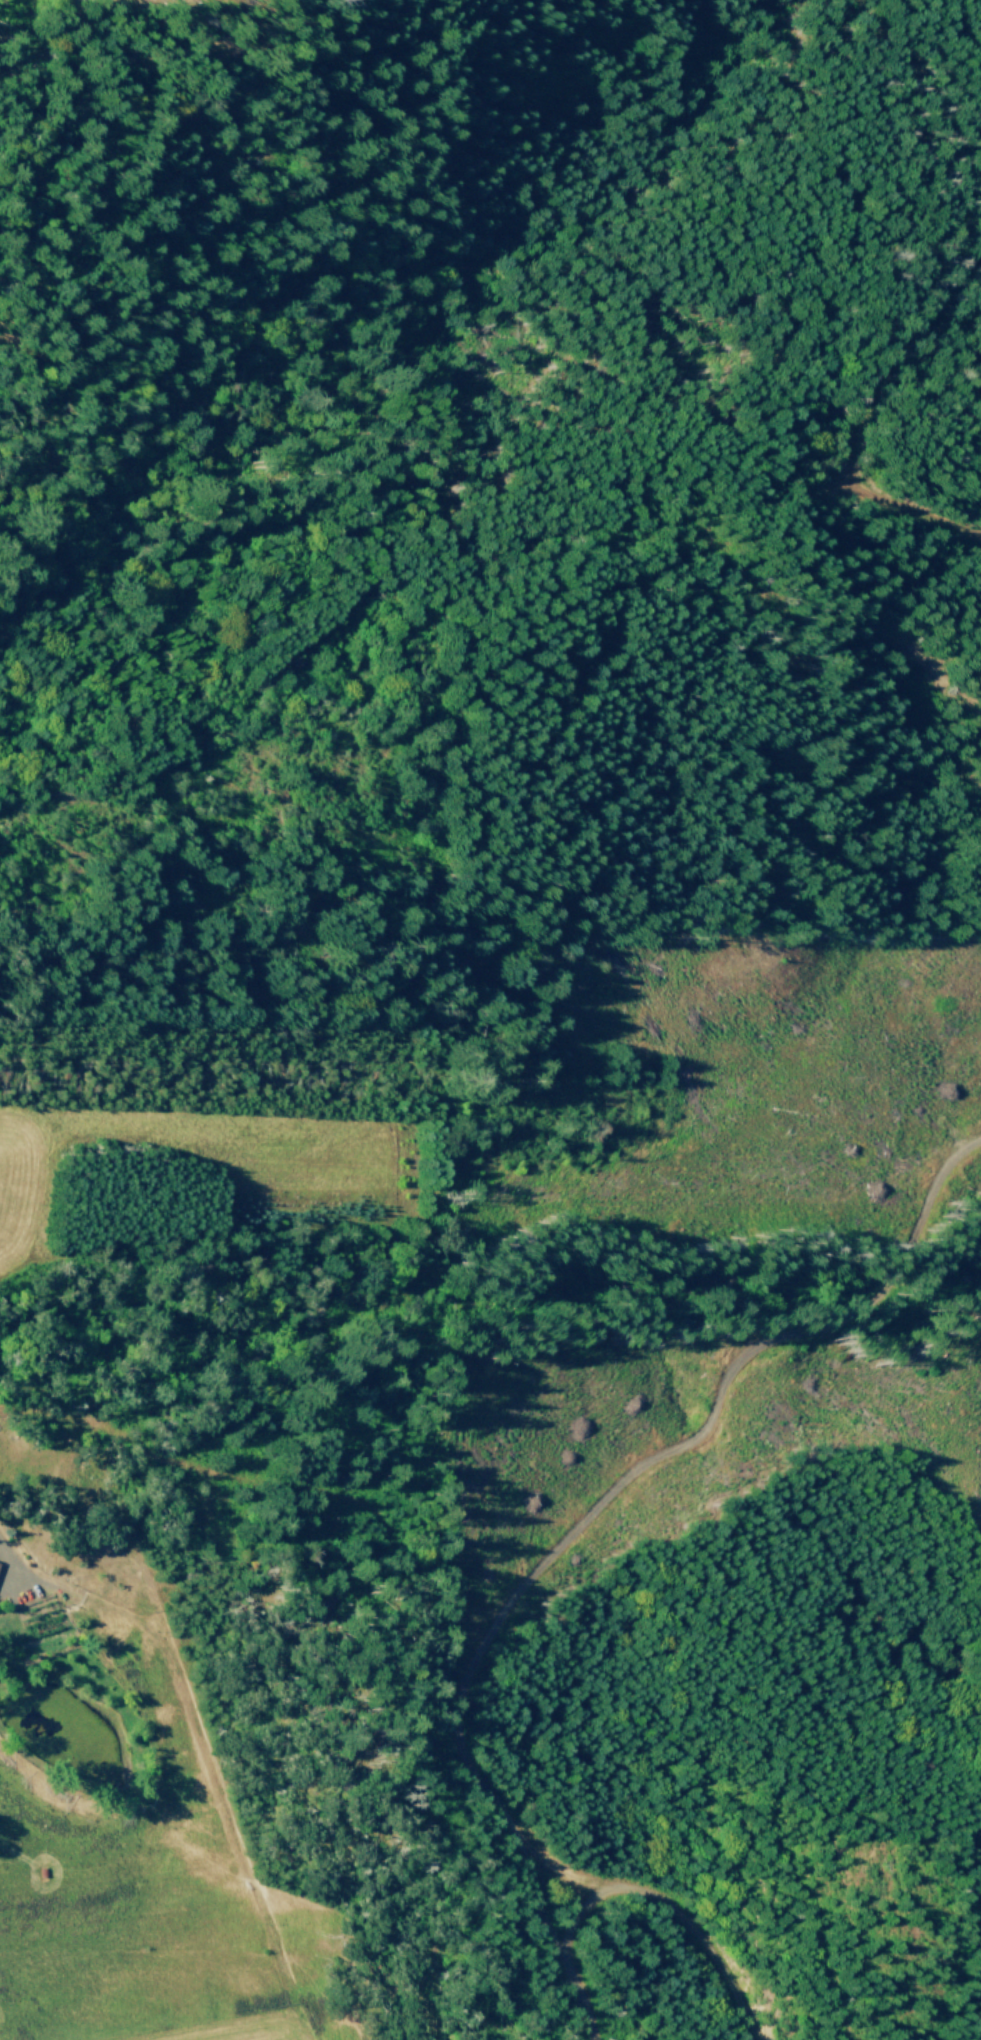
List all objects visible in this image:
road: (6, 1552)
road: (555, 1942)

